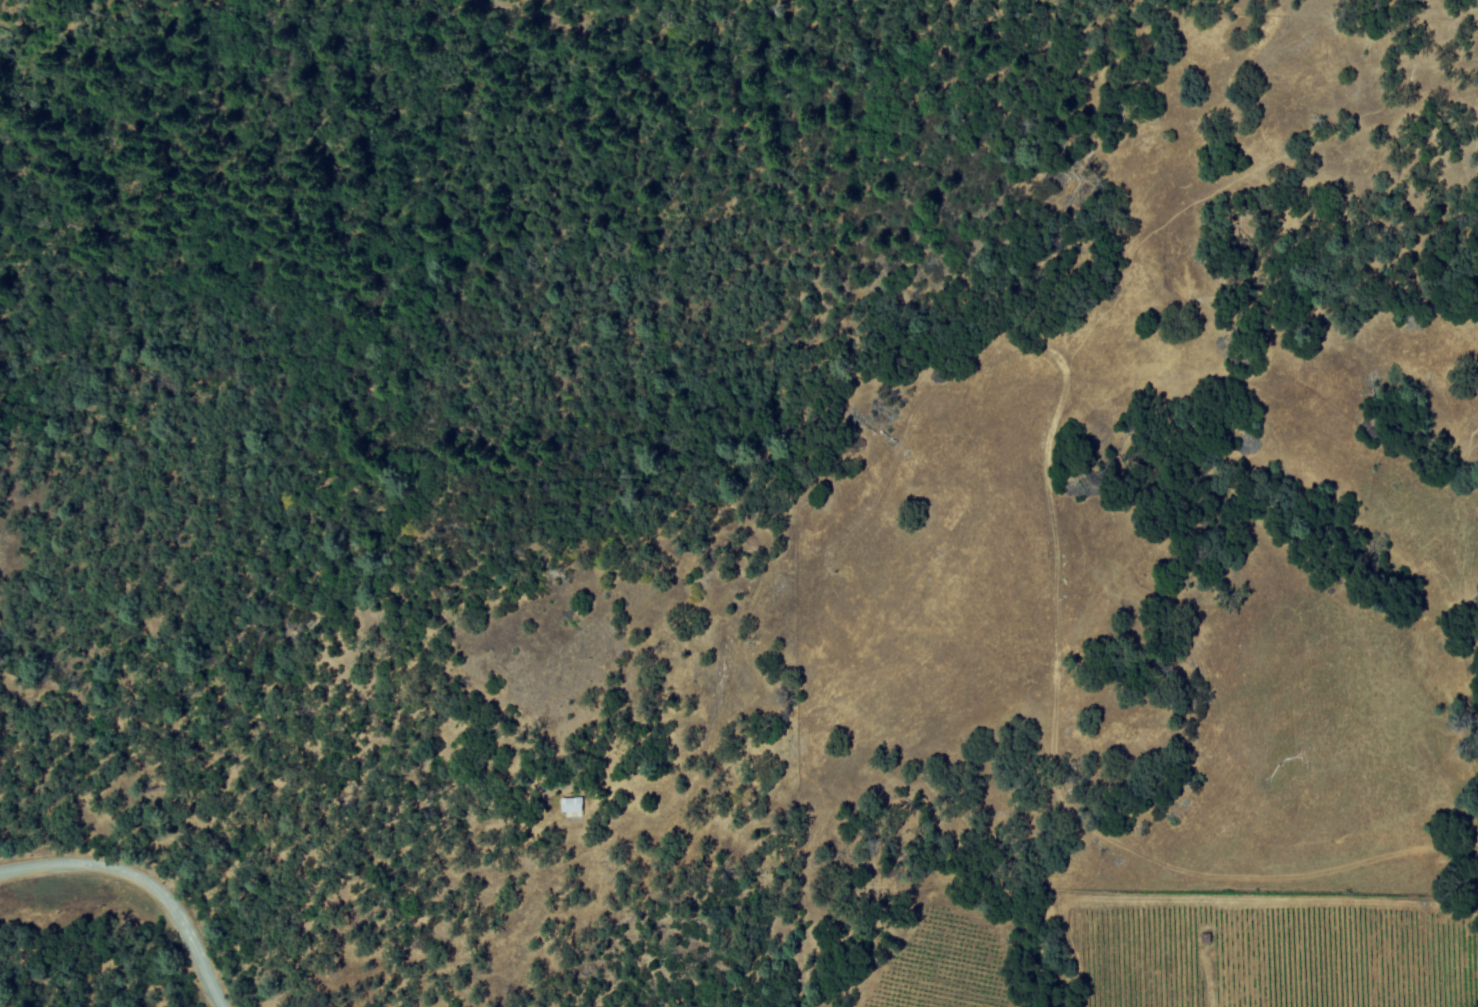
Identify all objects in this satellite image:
building: (569, 805)
road: (143, 883)
crop: (1180, 942)
road: (1206, 982)

